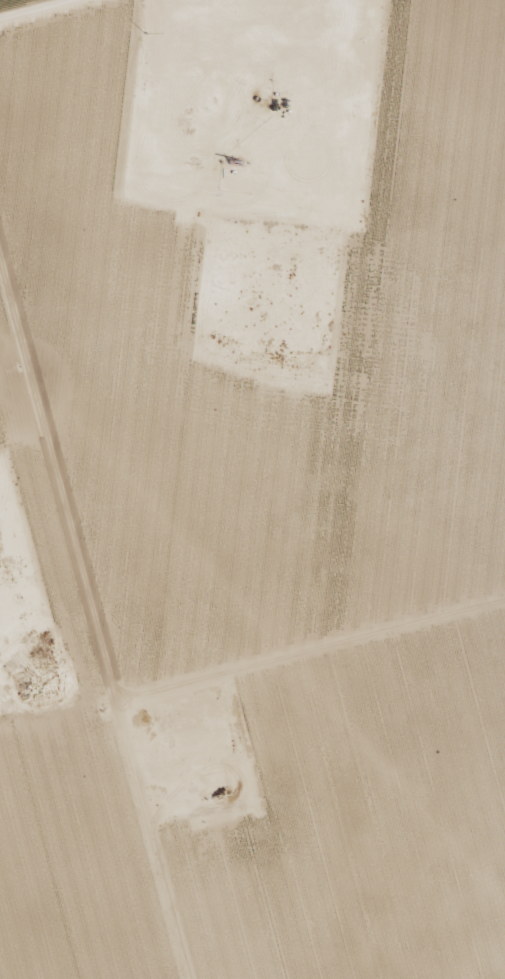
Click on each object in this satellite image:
road: (49, 12)

